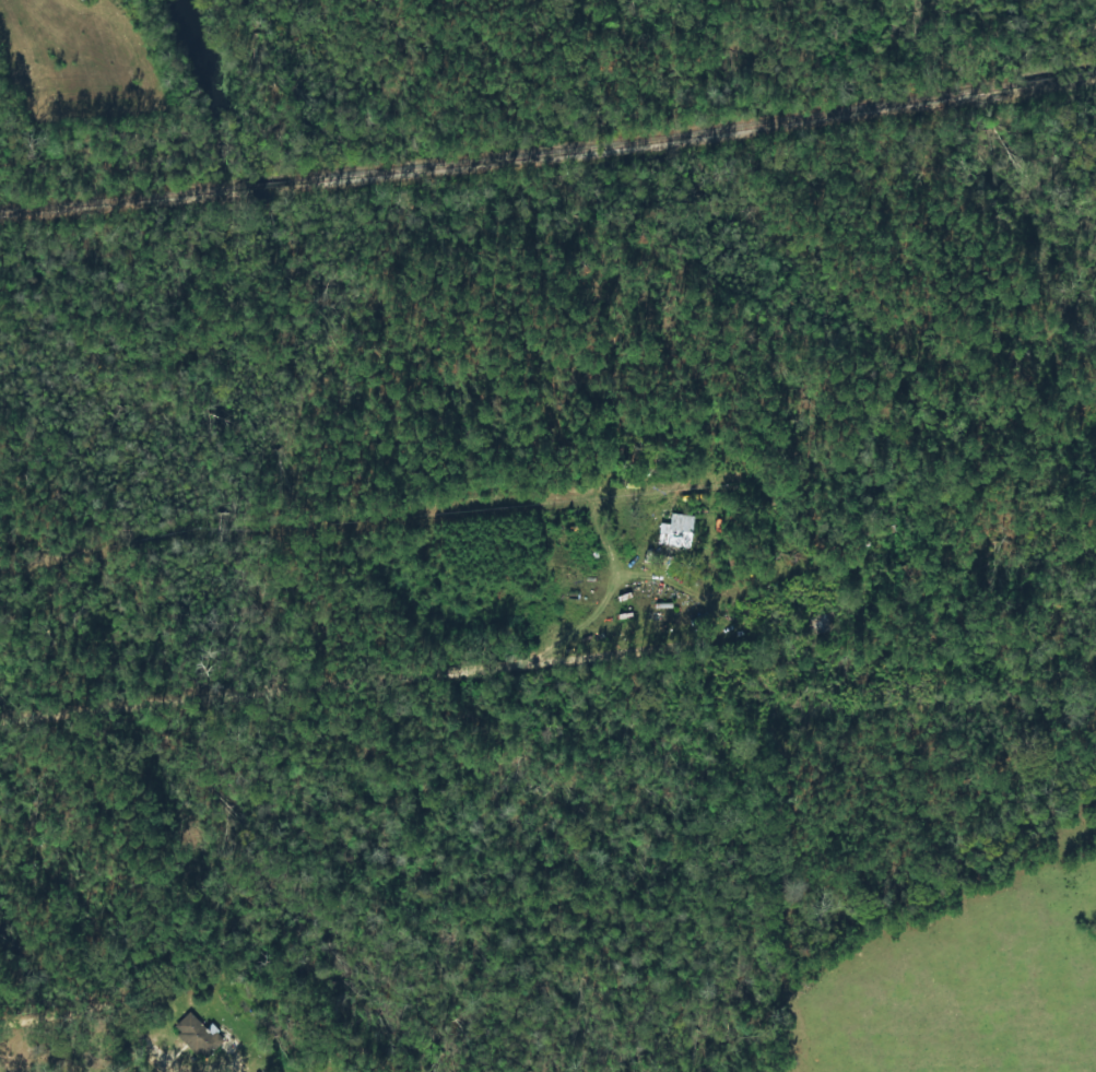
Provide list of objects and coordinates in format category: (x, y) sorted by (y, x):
railway: (549, 156)
building: (676, 531)
road: (381, 670)
building: (198, 1035)

